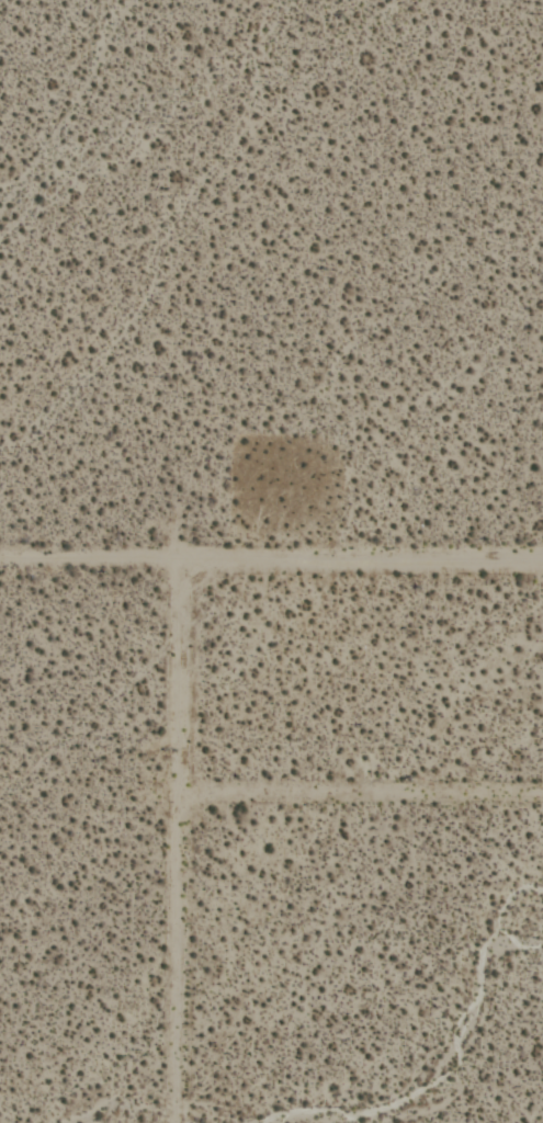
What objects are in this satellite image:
road: (271, 557)
crop: (271, 561)
road: (176, 840)

